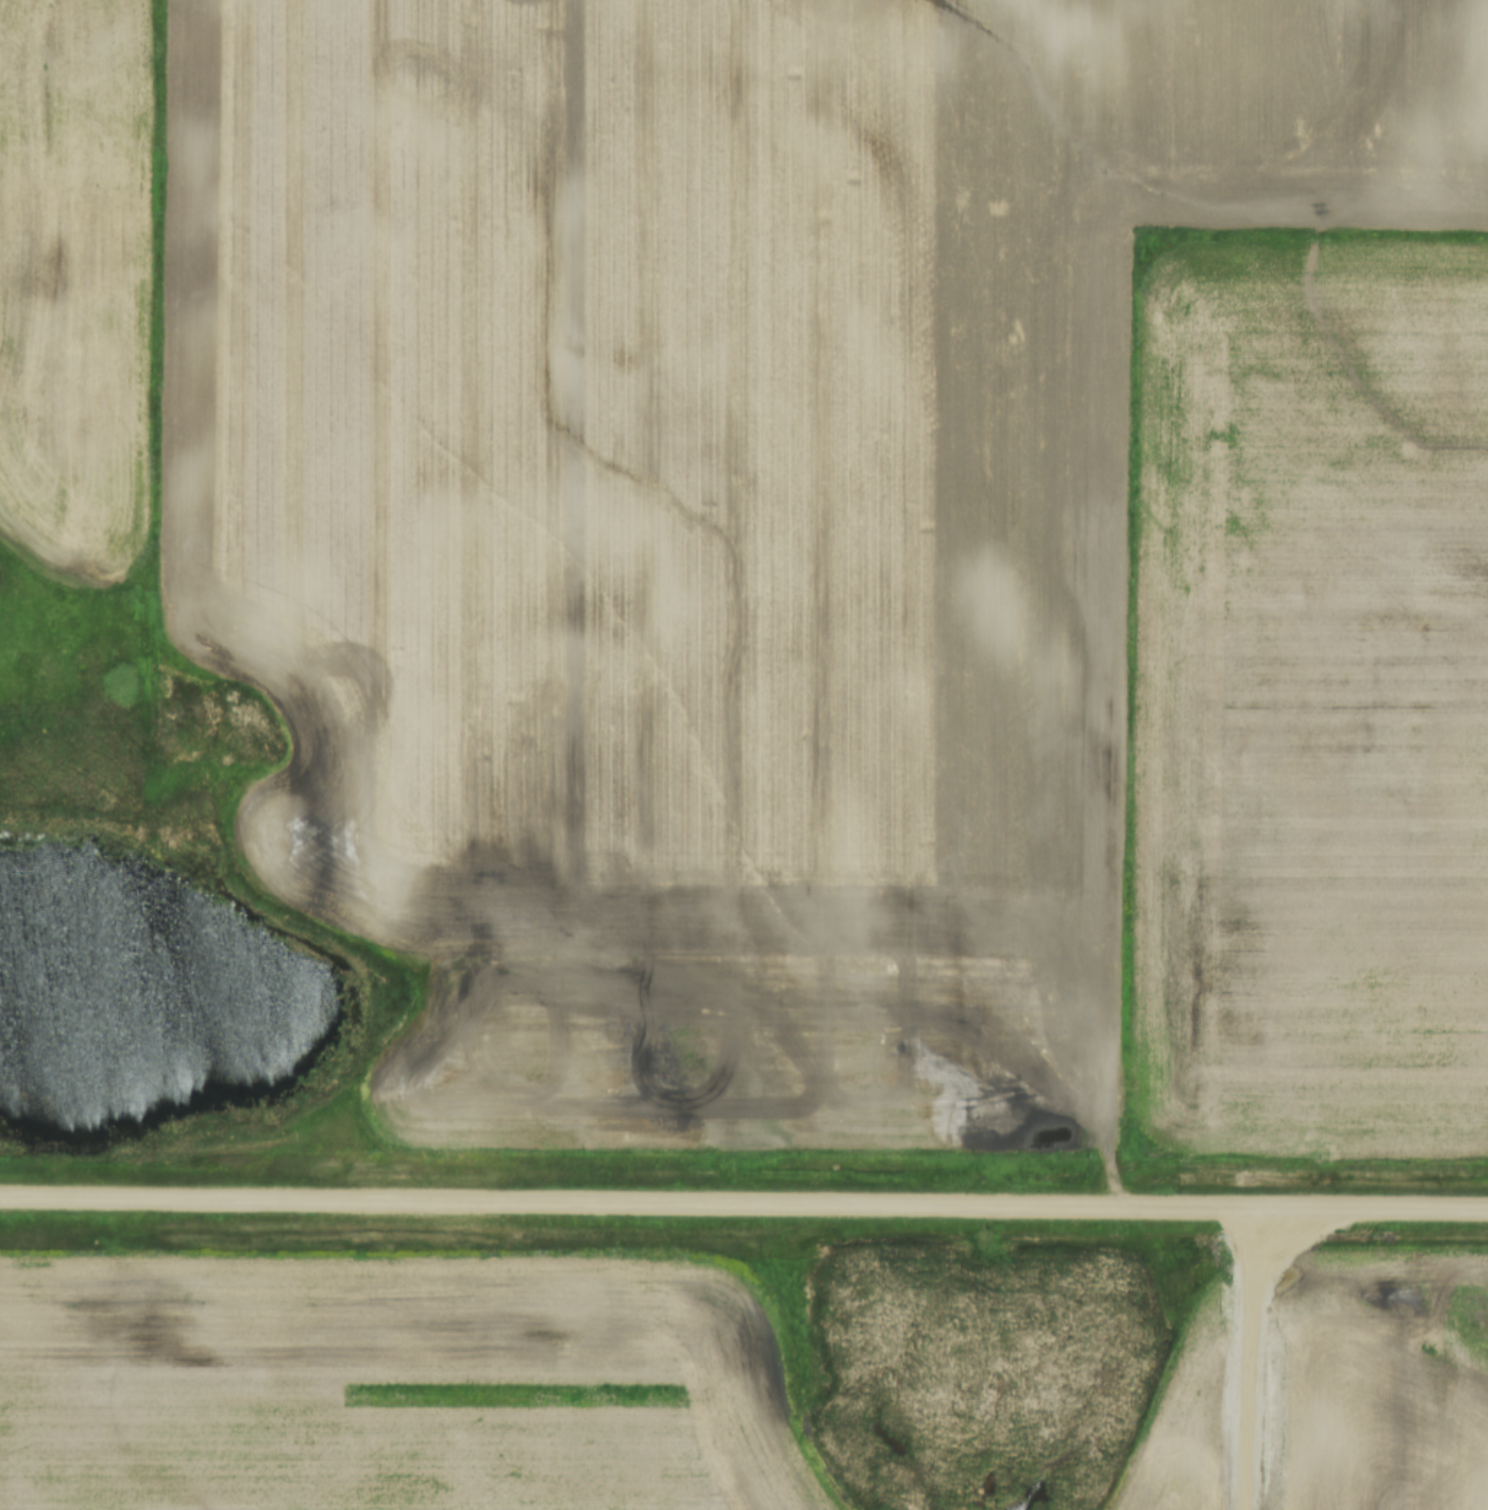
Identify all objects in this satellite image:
road: (743, 1207)

